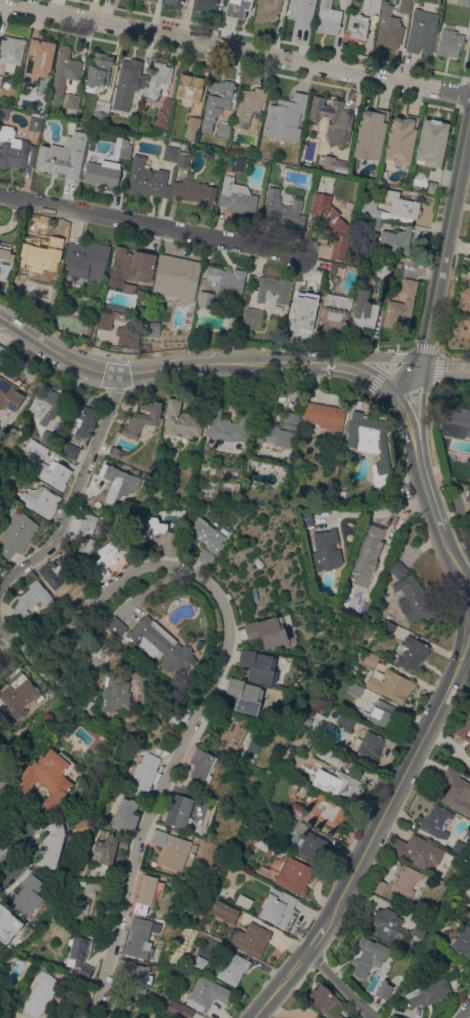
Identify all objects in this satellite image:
building: (152, 0)
building: (415, 1)
building: (173, 2)
building: (462, 2)
building: (206, 5)
building: (371, 5)
building: (405, 6)
building: (237, 8)
building: (267, 10)
building: (297, 14)
building: (327, 18)
building: (356, 28)
building: (388, 28)
building: (422, 32)
building: (449, 42)
road: (235, 48)
building: (11, 52)
building: (38, 59)
building: (64, 70)
building: (98, 71)
building: (0, 78)
building: (160, 79)
building: (128, 82)
building: (189, 88)
building: (72, 101)
building: (216, 102)
building: (249, 105)
building: (3, 113)
building: (164, 113)
building: (100, 115)
building: (285, 117)
building: (333, 120)
building: (36, 123)
building: (192, 127)
building: (223, 129)
building: (161, 134)
building: (371, 134)
building: (401, 140)
building: (431, 142)
building: (183, 146)
building: (15, 149)
building: (125, 150)
building: (296, 150)
building: (170, 153)
building: (63, 156)
building: (183, 159)
building: (241, 164)
building: (335, 164)
building: (105, 174)
building: (147, 179)
building: (432, 186)
building: (194, 190)
building: (262, 190)
building: (237, 197)
building: (391, 207)
building: (283, 210)
road: (453, 213)
building: (375, 222)
building: (331, 224)
road: (150, 225)
building: (397, 240)
building: (40, 254)
building: (87, 259)
building: (5, 261)
building: (130, 267)
building: (331, 267)
building: (383, 270)
building: (176, 277)
building: (335, 278)
building: (228, 282)
building: (272, 289)
building: (205, 299)
building: (466, 302)
building: (401, 304)
building: (335, 310)
building: (363, 311)
building: (303, 312)
building: (253, 316)
building: (109, 319)
building: (469, 327)
building: (152, 330)
building: (127, 336)
road: (430, 339)
road: (38, 342)
building: (1, 351)
road: (377, 356)
road: (414, 362)
road: (235, 363)
road: (99, 369)
road: (447, 372)
road: (369, 374)
road: (406, 379)
building: (9, 395)
building: (46, 404)
road: (421, 410)
building: (325, 417)
building: (79, 418)
road: (404, 418)
building: (142, 419)
building: (181, 420)
building: (455, 422)
building: (228, 426)
road: (100, 428)
building: (275, 433)
building: (47, 437)
building: (370, 444)
building: (37, 447)
building: (58, 447)
building: (70, 451)
building: (21, 453)
building: (114, 453)
building: (52, 473)
road: (425, 473)
building: (118, 484)
building: (468, 493)
building: (40, 501)
road: (378, 509)
building: (469, 510)
road: (435, 512)
building: (306, 518)
building: (82, 531)
building: (16, 533)
building: (158, 536)
building: (205, 540)
road: (50, 541)
building: (325, 550)
building: (110, 557)
road: (452, 557)
building: (364, 558)
building: (0, 566)
building: (398, 569)
building: (57, 572)
road: (467, 575)
building: (62, 594)
building: (254, 598)
building: (413, 599)
building: (28, 600)
building: (38, 605)
building: (117, 624)
building: (388, 627)
road: (4, 630)
building: (269, 630)
road: (4, 640)
building: (161, 644)
building: (412, 654)
building: (370, 659)
road: (465, 663)
building: (258, 666)
building: (390, 685)
building: (355, 690)
road: (209, 691)
building: (115, 693)
building: (245, 695)
building: (17, 696)
building: (178, 713)
building: (383, 716)
building: (308, 721)
building: (345, 721)
building: (463, 724)
building: (288, 734)
building: (232, 736)
building: (300, 739)
building: (253, 746)
building: (366, 747)
building: (468, 748)
building: (326, 753)
building: (201, 764)
building: (469, 769)
building: (144, 775)
building: (47, 776)
building: (3, 782)
building: (338, 784)
road: (399, 787)
building: (455, 791)
building: (178, 811)
building: (329, 811)
building: (296, 812)
building: (125, 815)
building: (435, 821)
building: (290, 822)
building: (159, 836)
building: (468, 836)
building: (53, 839)
road: (32, 841)
building: (263, 844)
building: (312, 846)
building: (459, 847)
building: (105, 849)
building: (3, 850)
building: (416, 851)
building: (177, 853)
building: (232, 870)
building: (293, 875)
building: (407, 881)
building: (79, 883)
building: (379, 885)
building: (147, 892)
building: (28, 896)
building: (277, 907)
building: (224, 910)
building: (78, 912)
building: (8, 924)
building: (387, 925)
building: (420, 928)
building: (139, 938)
building: (251, 938)
road: (319, 940)
building: (462, 941)
building: (79, 954)
building: (368, 957)
building: (201, 964)
building: (232, 967)
building: (134, 975)
road: (285, 986)
road: (343, 986)
building: (383, 989)
building: (429, 991)
building: (40, 993)
building: (206, 993)
building: (325, 1002)
building: (177, 1010)
road: (465, 1011)
building: (81, 1013)
building: (314, 1016)
building: (317, 1016)
building: (194, 1017)

